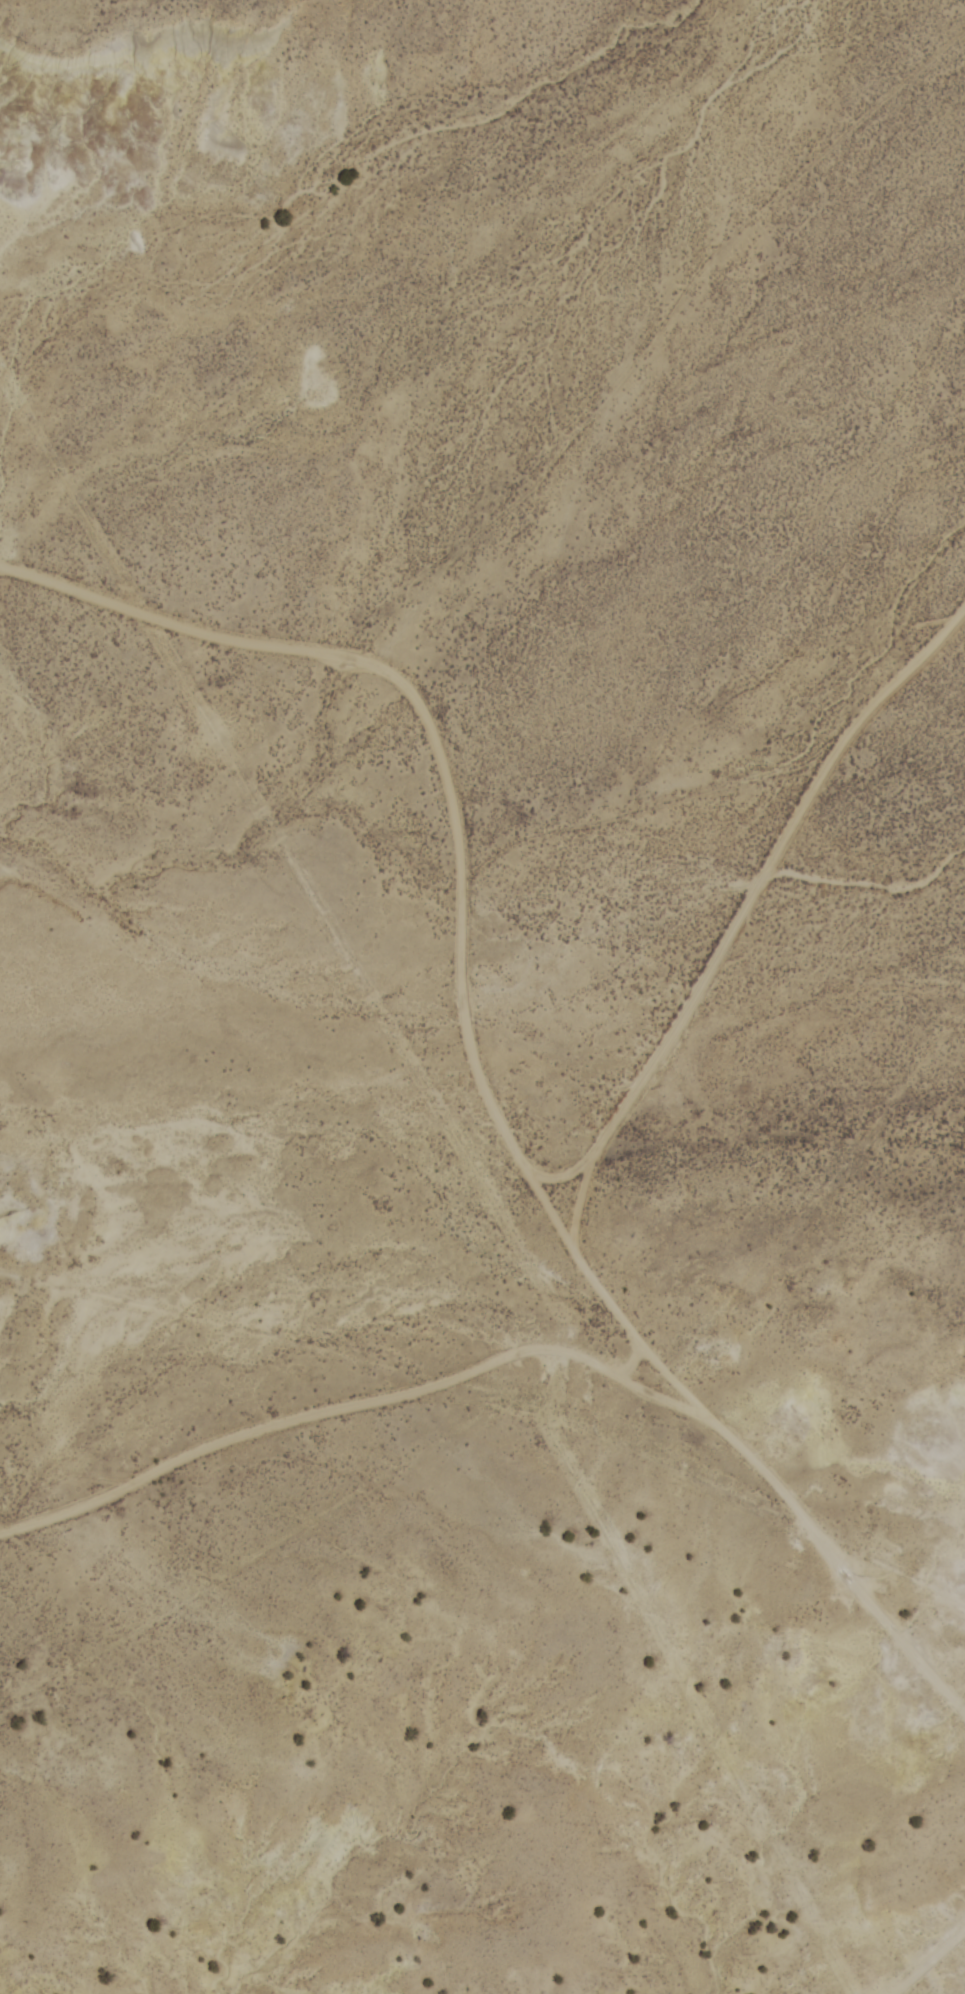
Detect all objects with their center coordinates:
road: (514, 1036)

